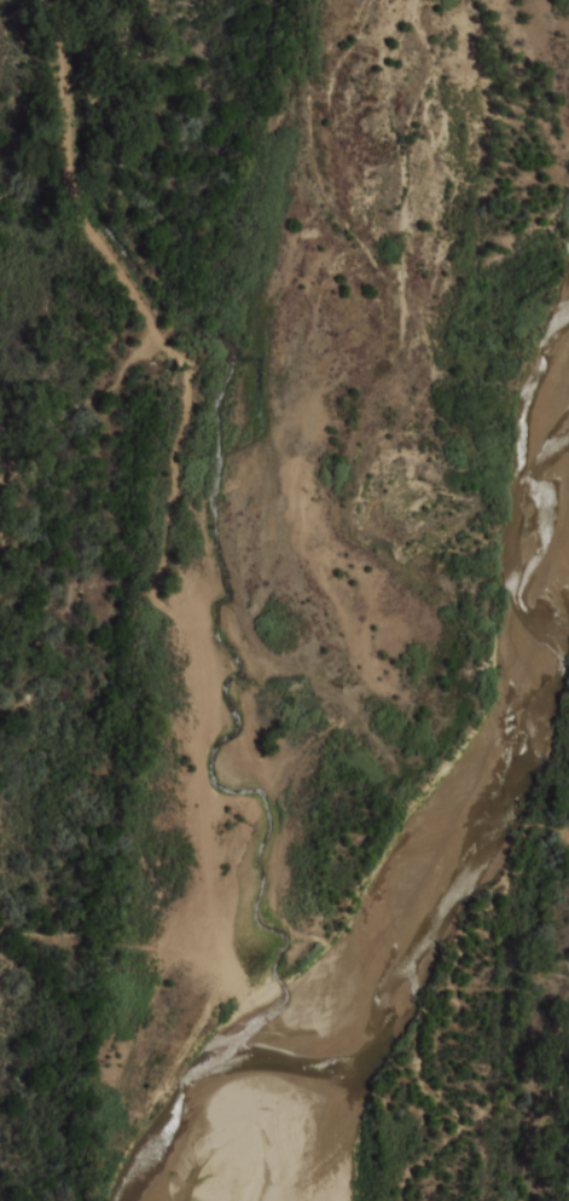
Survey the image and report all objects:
river: (417, 884)

